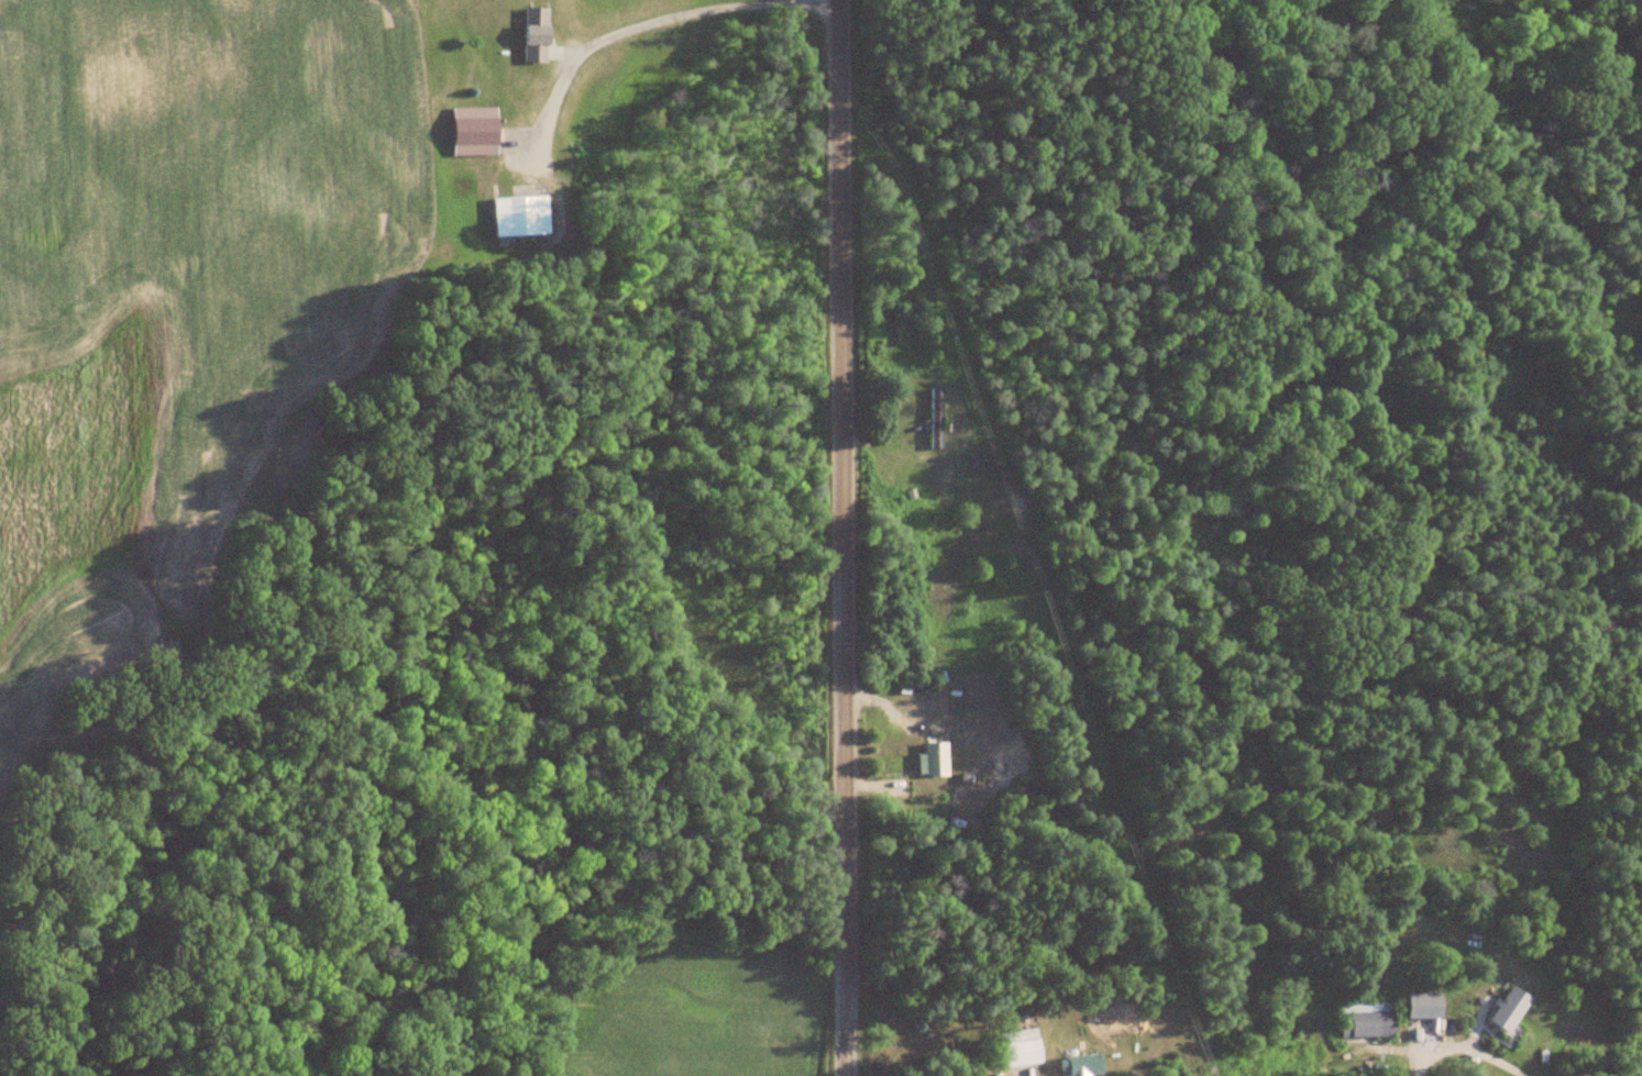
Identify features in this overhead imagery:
building: (535, 35)
building: (474, 132)
building: (518, 215)
building: (562, 220)
building: (934, 419)
road: (827, 537)
building: (932, 759)
building: (1421, 1006)
building: (1507, 1008)
building: (1365, 1019)
building: (1021, 1049)
building: (1082, 1065)

